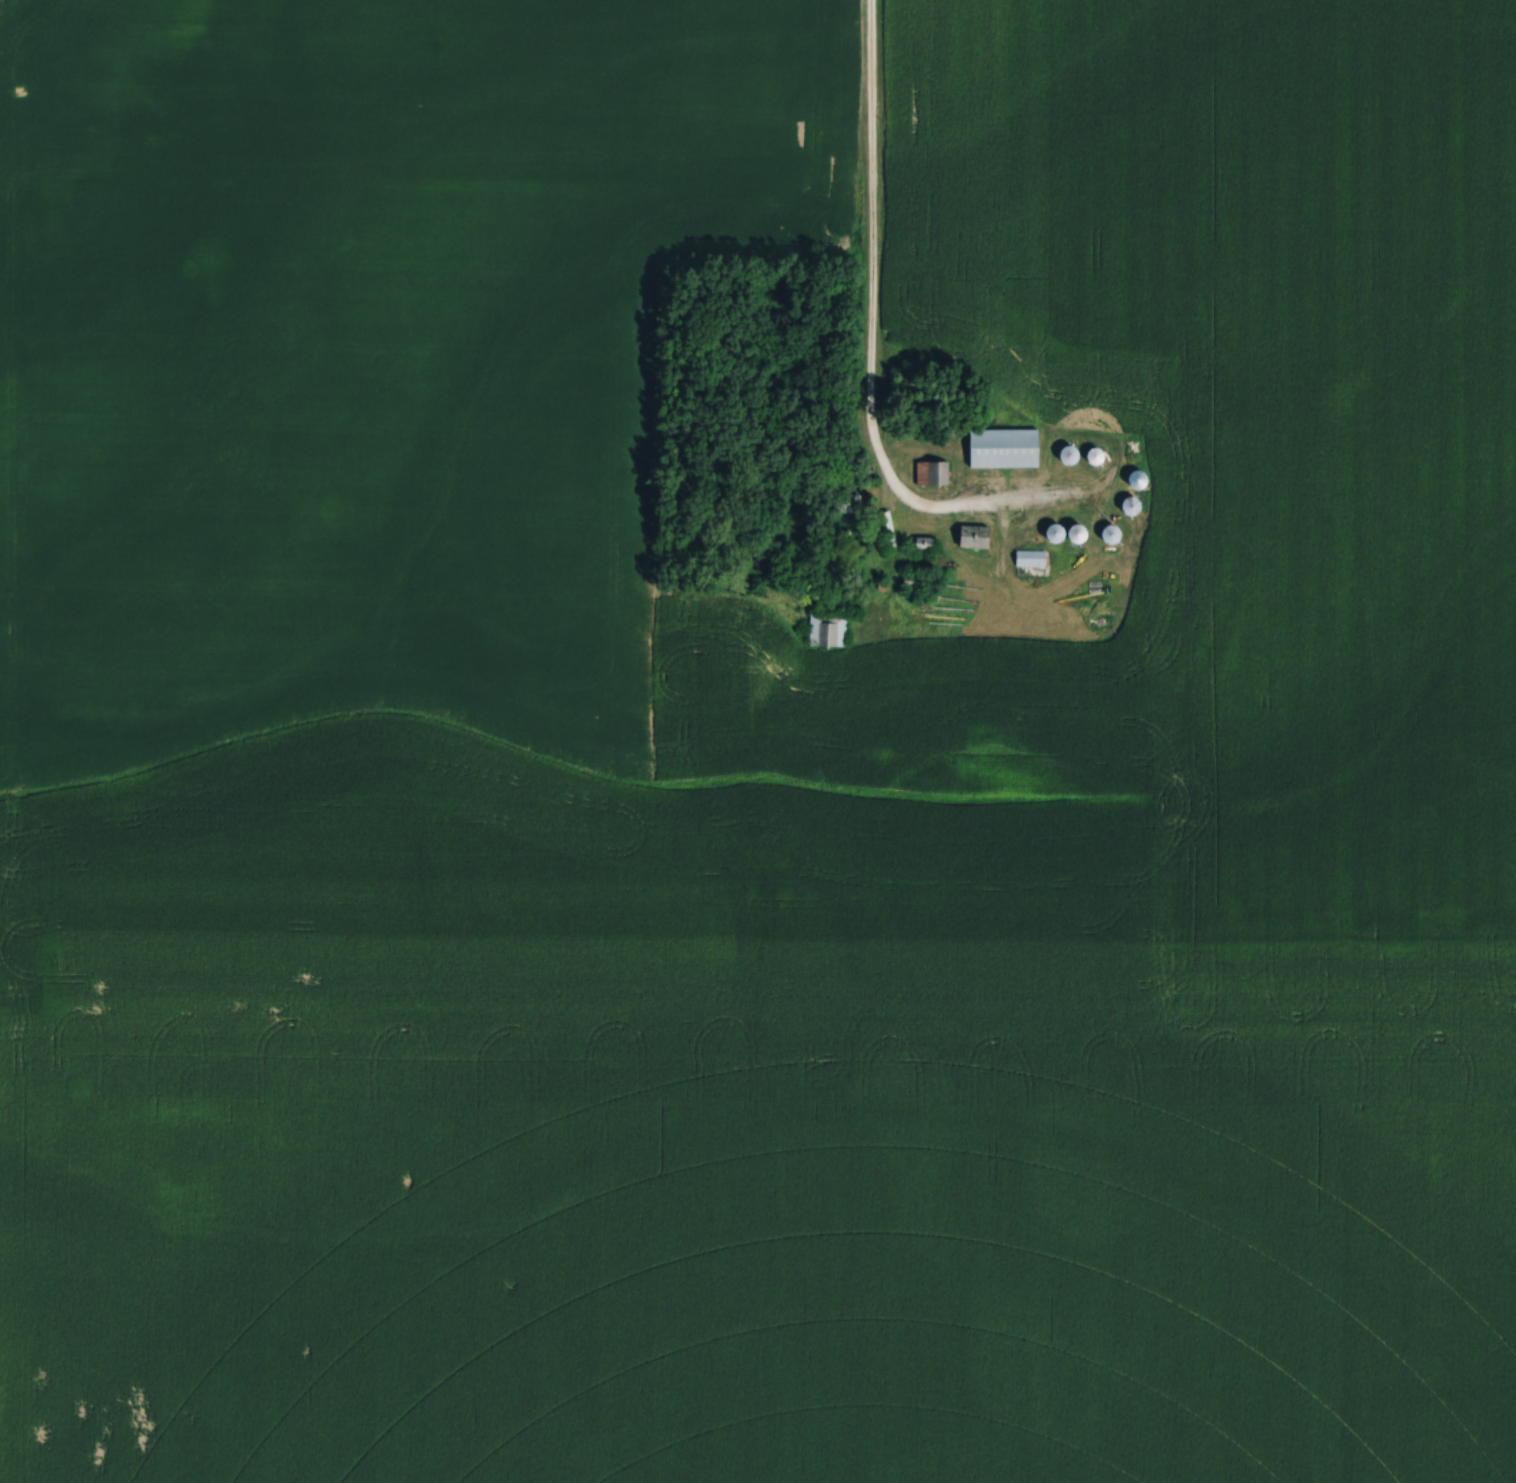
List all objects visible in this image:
road: (868, 289)
building: (1003, 448)
building: (1068, 456)
building: (1096, 456)
building: (932, 474)
building: (847, 503)
building: (1129, 506)
building: (1063, 533)
building: (1110, 535)
building: (972, 536)
building: (923, 543)
building: (1030, 558)
building: (919, 581)
building: (828, 630)

